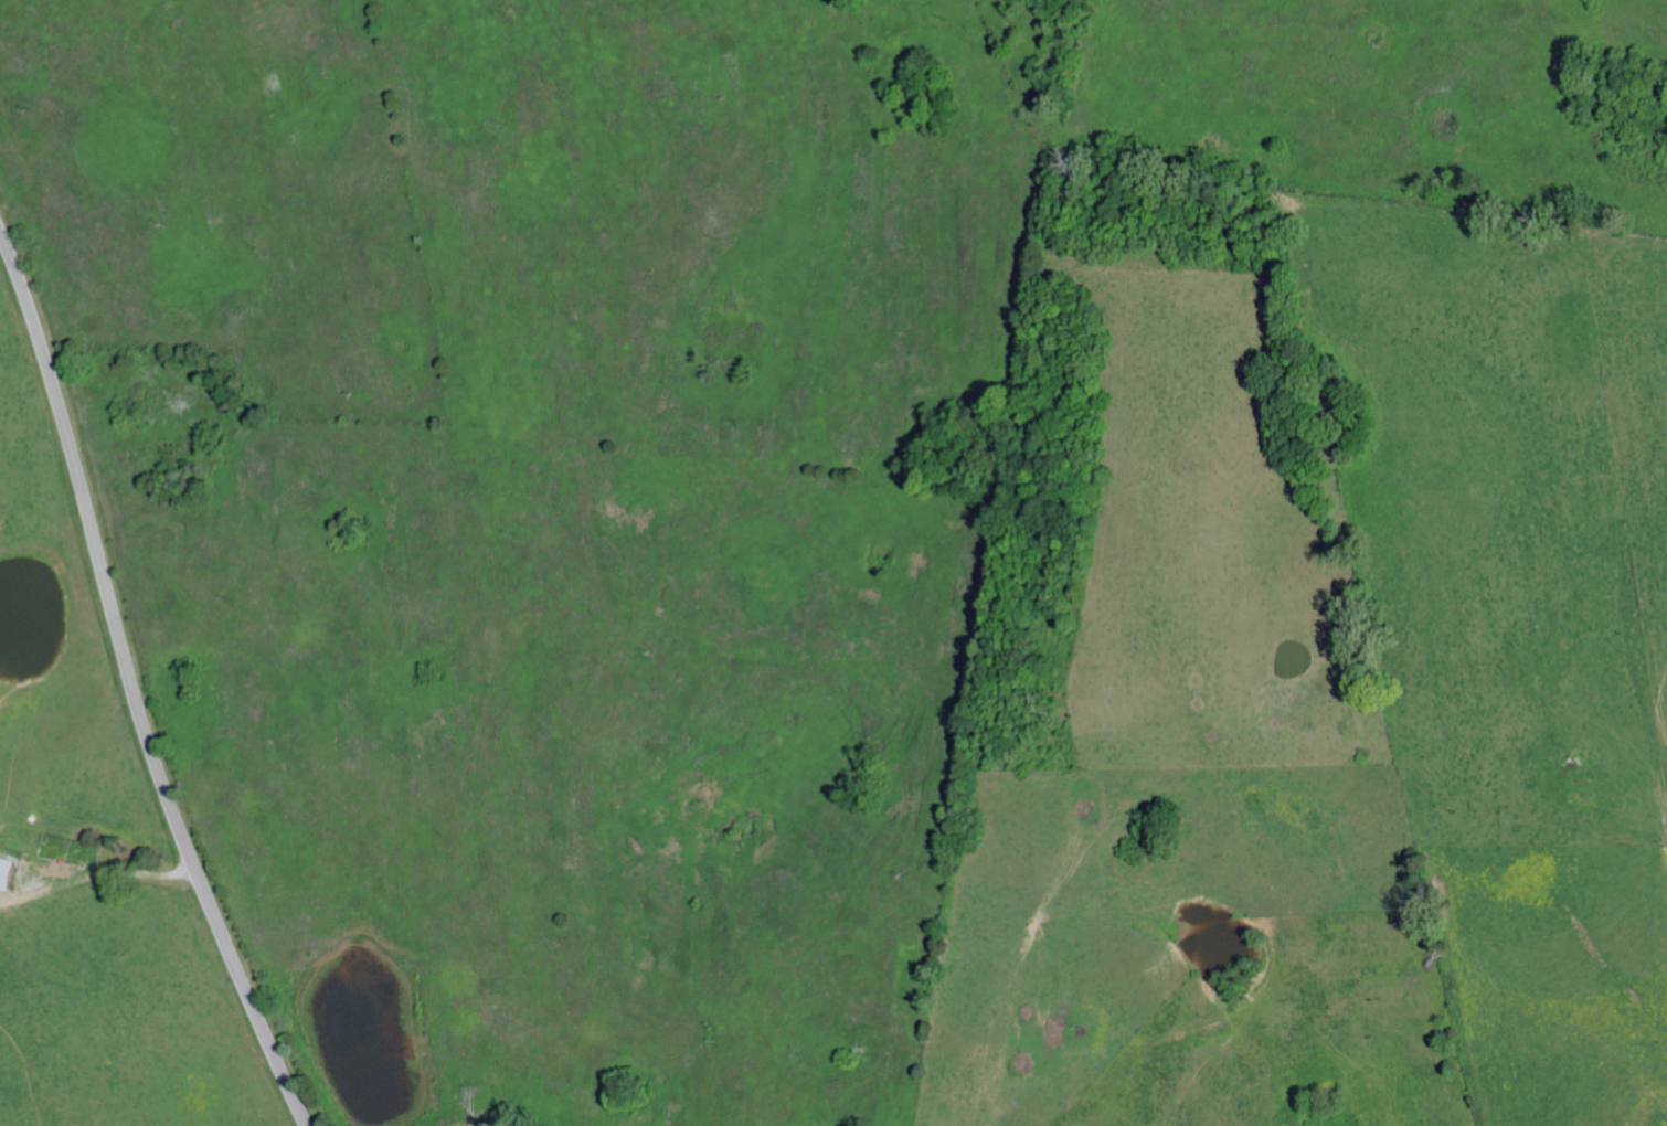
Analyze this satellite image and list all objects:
road: (129, 689)
road: (663, 829)
building: (3, 870)
road: (323, 1114)

